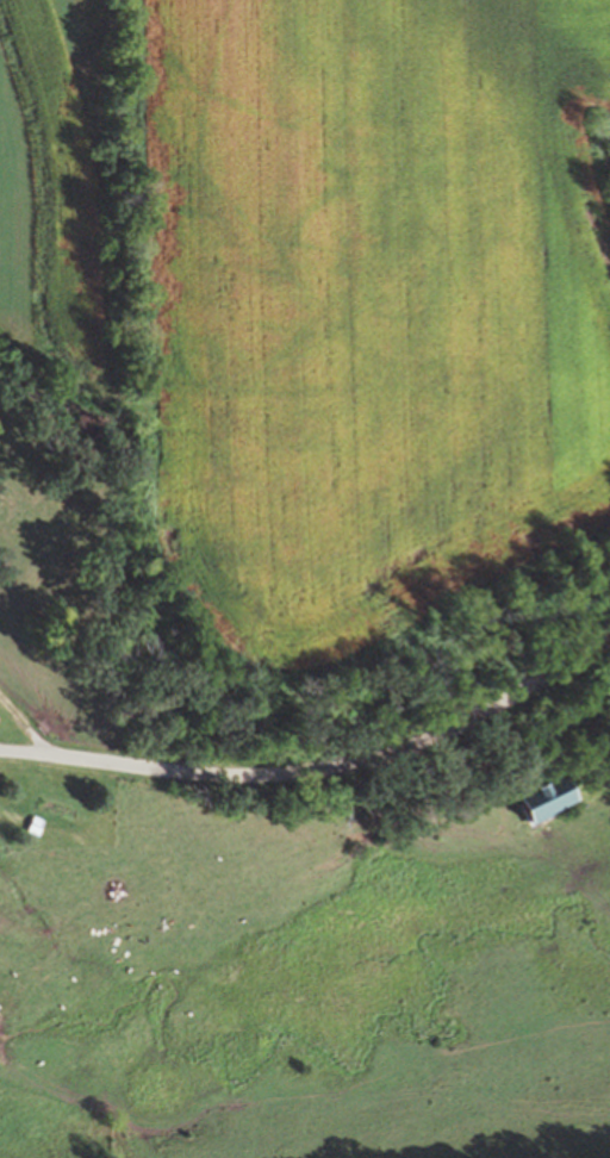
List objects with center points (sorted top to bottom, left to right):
road: (24, 728)
road: (318, 778)
building: (544, 813)
building: (33, 824)

